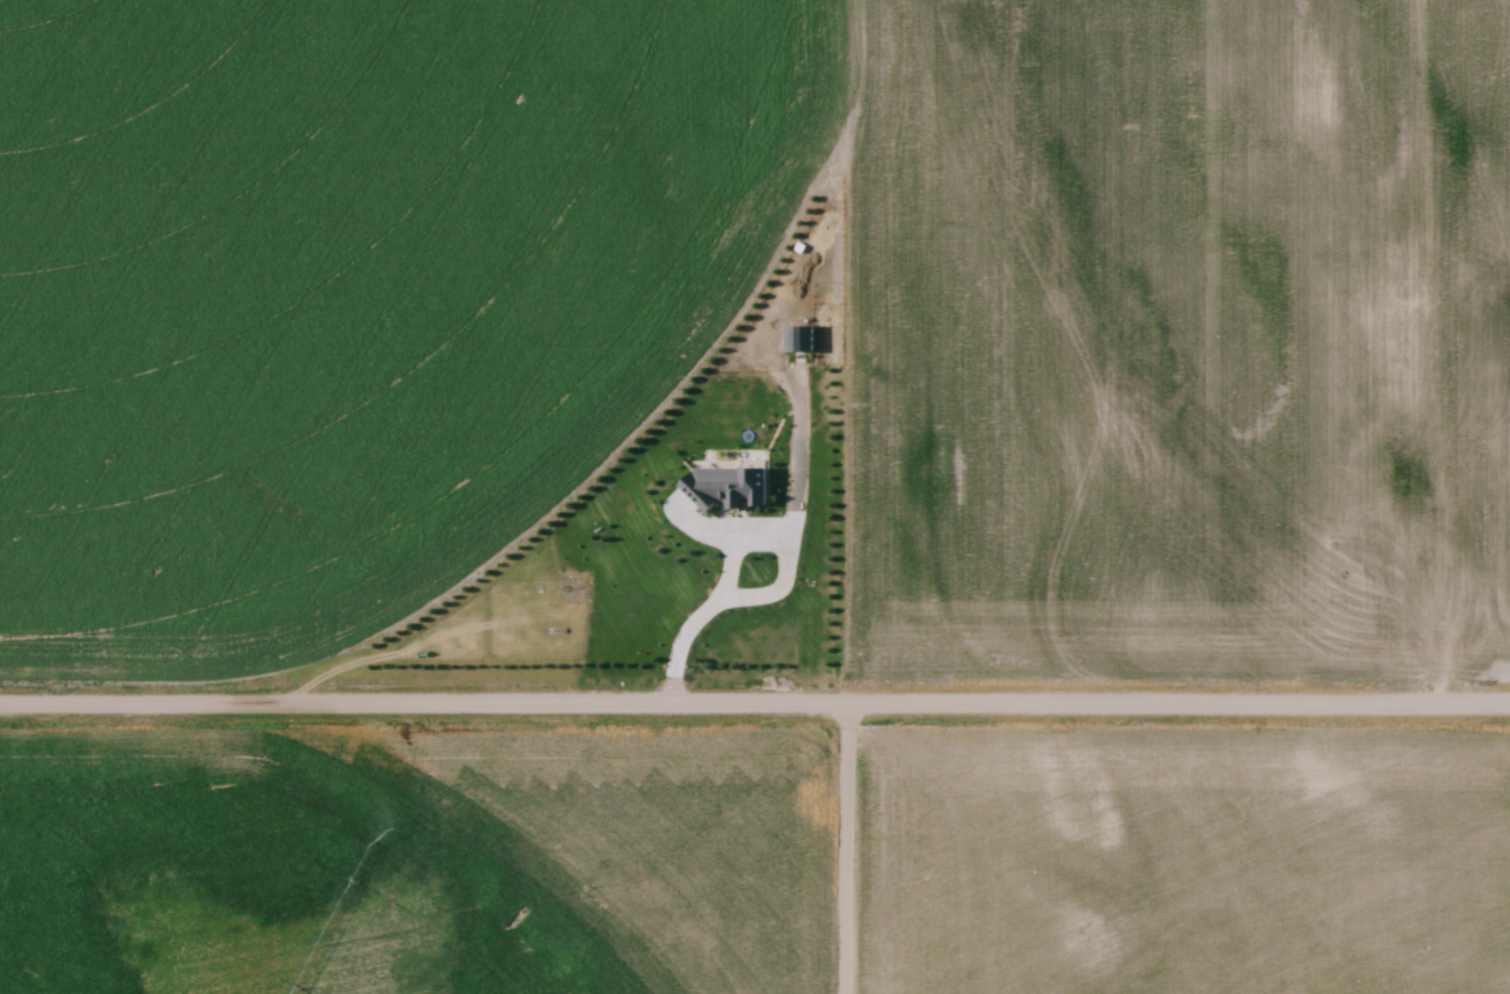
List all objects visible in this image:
road: (754, 702)
road: (848, 848)

